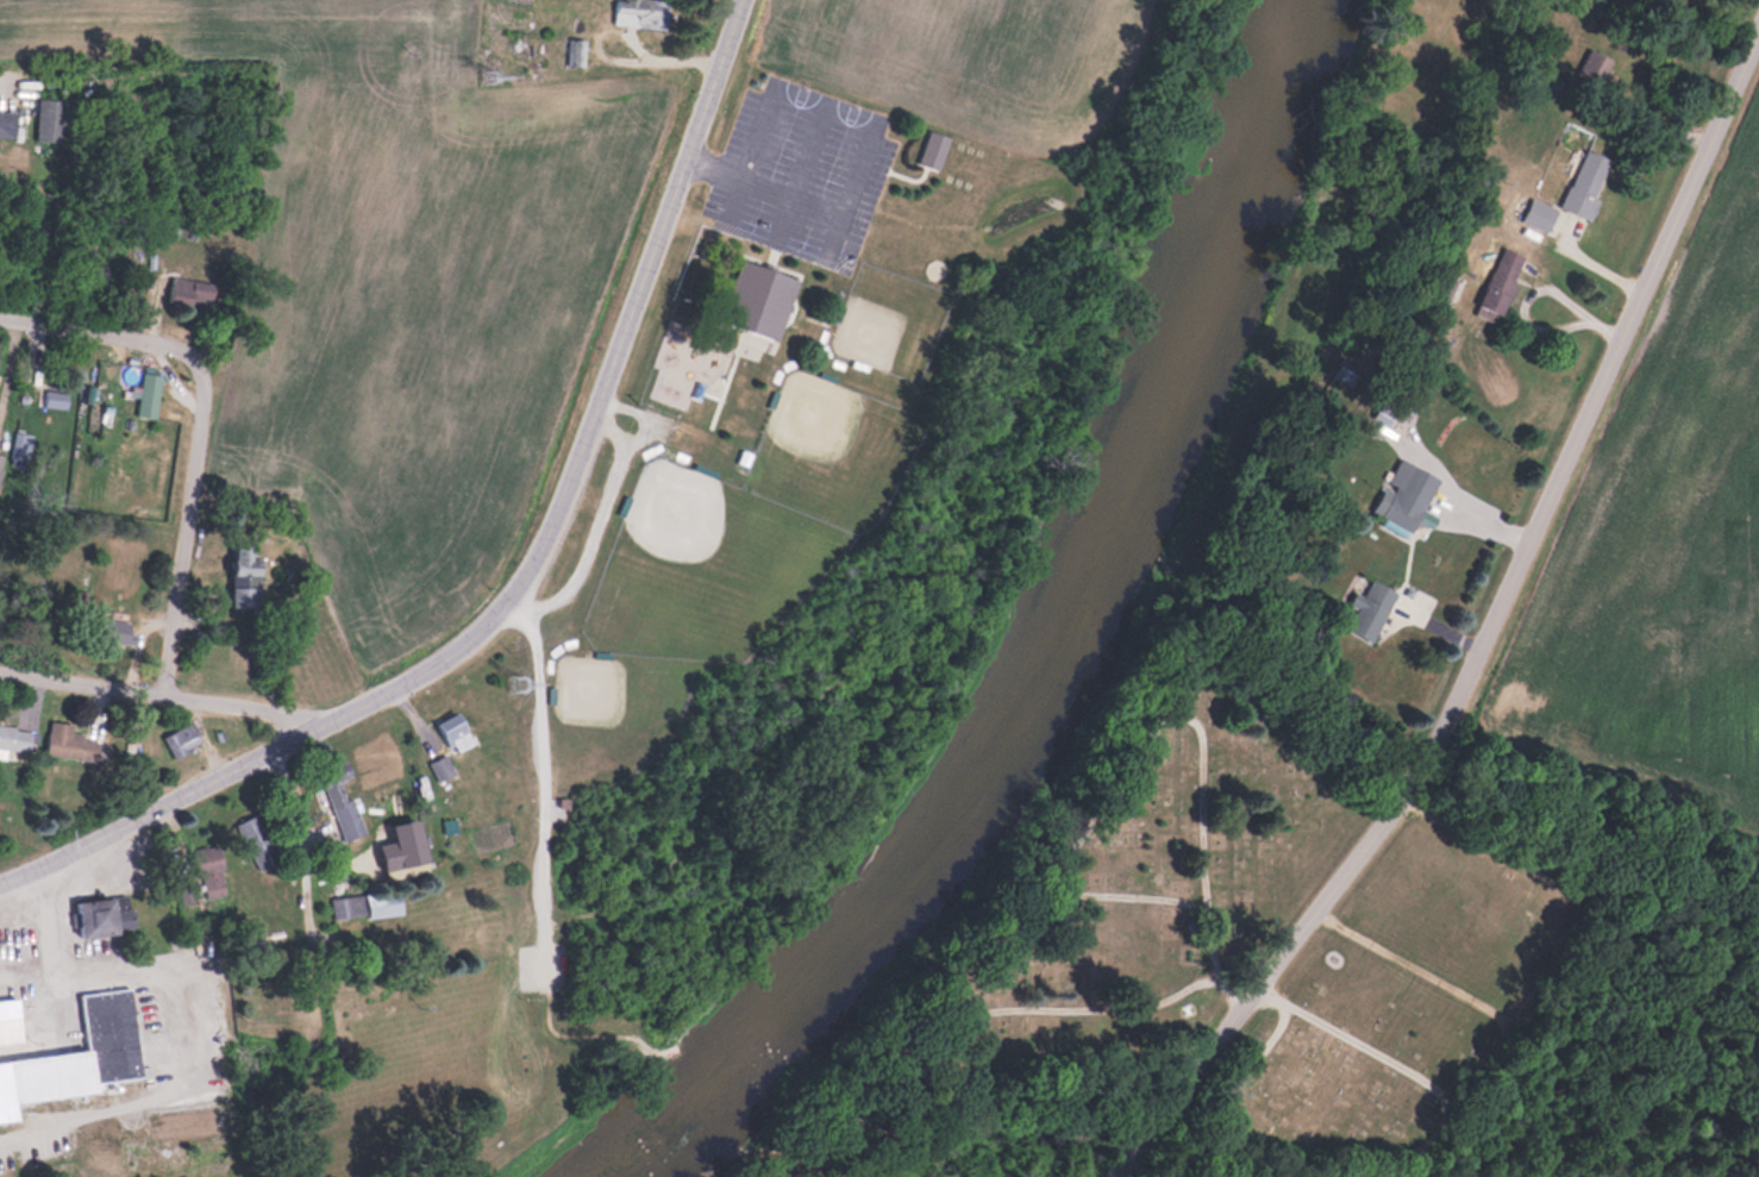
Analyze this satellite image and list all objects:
building: (641, 13)
building: (576, 51)
building: (1592, 69)
power tower: (497, 73)
building: (51, 119)
building: (10, 124)
building: (1586, 182)
building: (1538, 214)
building: (1500, 282)
building: (1444, 286)
road: (1534, 290)
building: (189, 292)
building: (759, 298)
road: (99, 339)
building: (149, 394)
building: (56, 399)
building: (1384, 413)
building: (0, 457)
building: (1406, 494)
road: (184, 530)
building: (245, 576)
road: (528, 580)
building: (1370, 608)
building: (113, 630)
road: (1494, 639)
river: (1075, 650)
power tower: (514, 691)
road: (163, 694)
building: (456, 731)
building: (18, 738)
building: (182, 739)
building: (73, 743)
building: (442, 766)
building: (339, 797)
building: (258, 840)
road: (353, 862)
building: (211, 870)
building: (388, 903)
building: (343, 908)
building: (98, 916)
park: (1282, 926)
road: (51, 938)
building: (276, 993)
building: (10, 1021)
road: (175, 1031)
building: (84, 1052)

